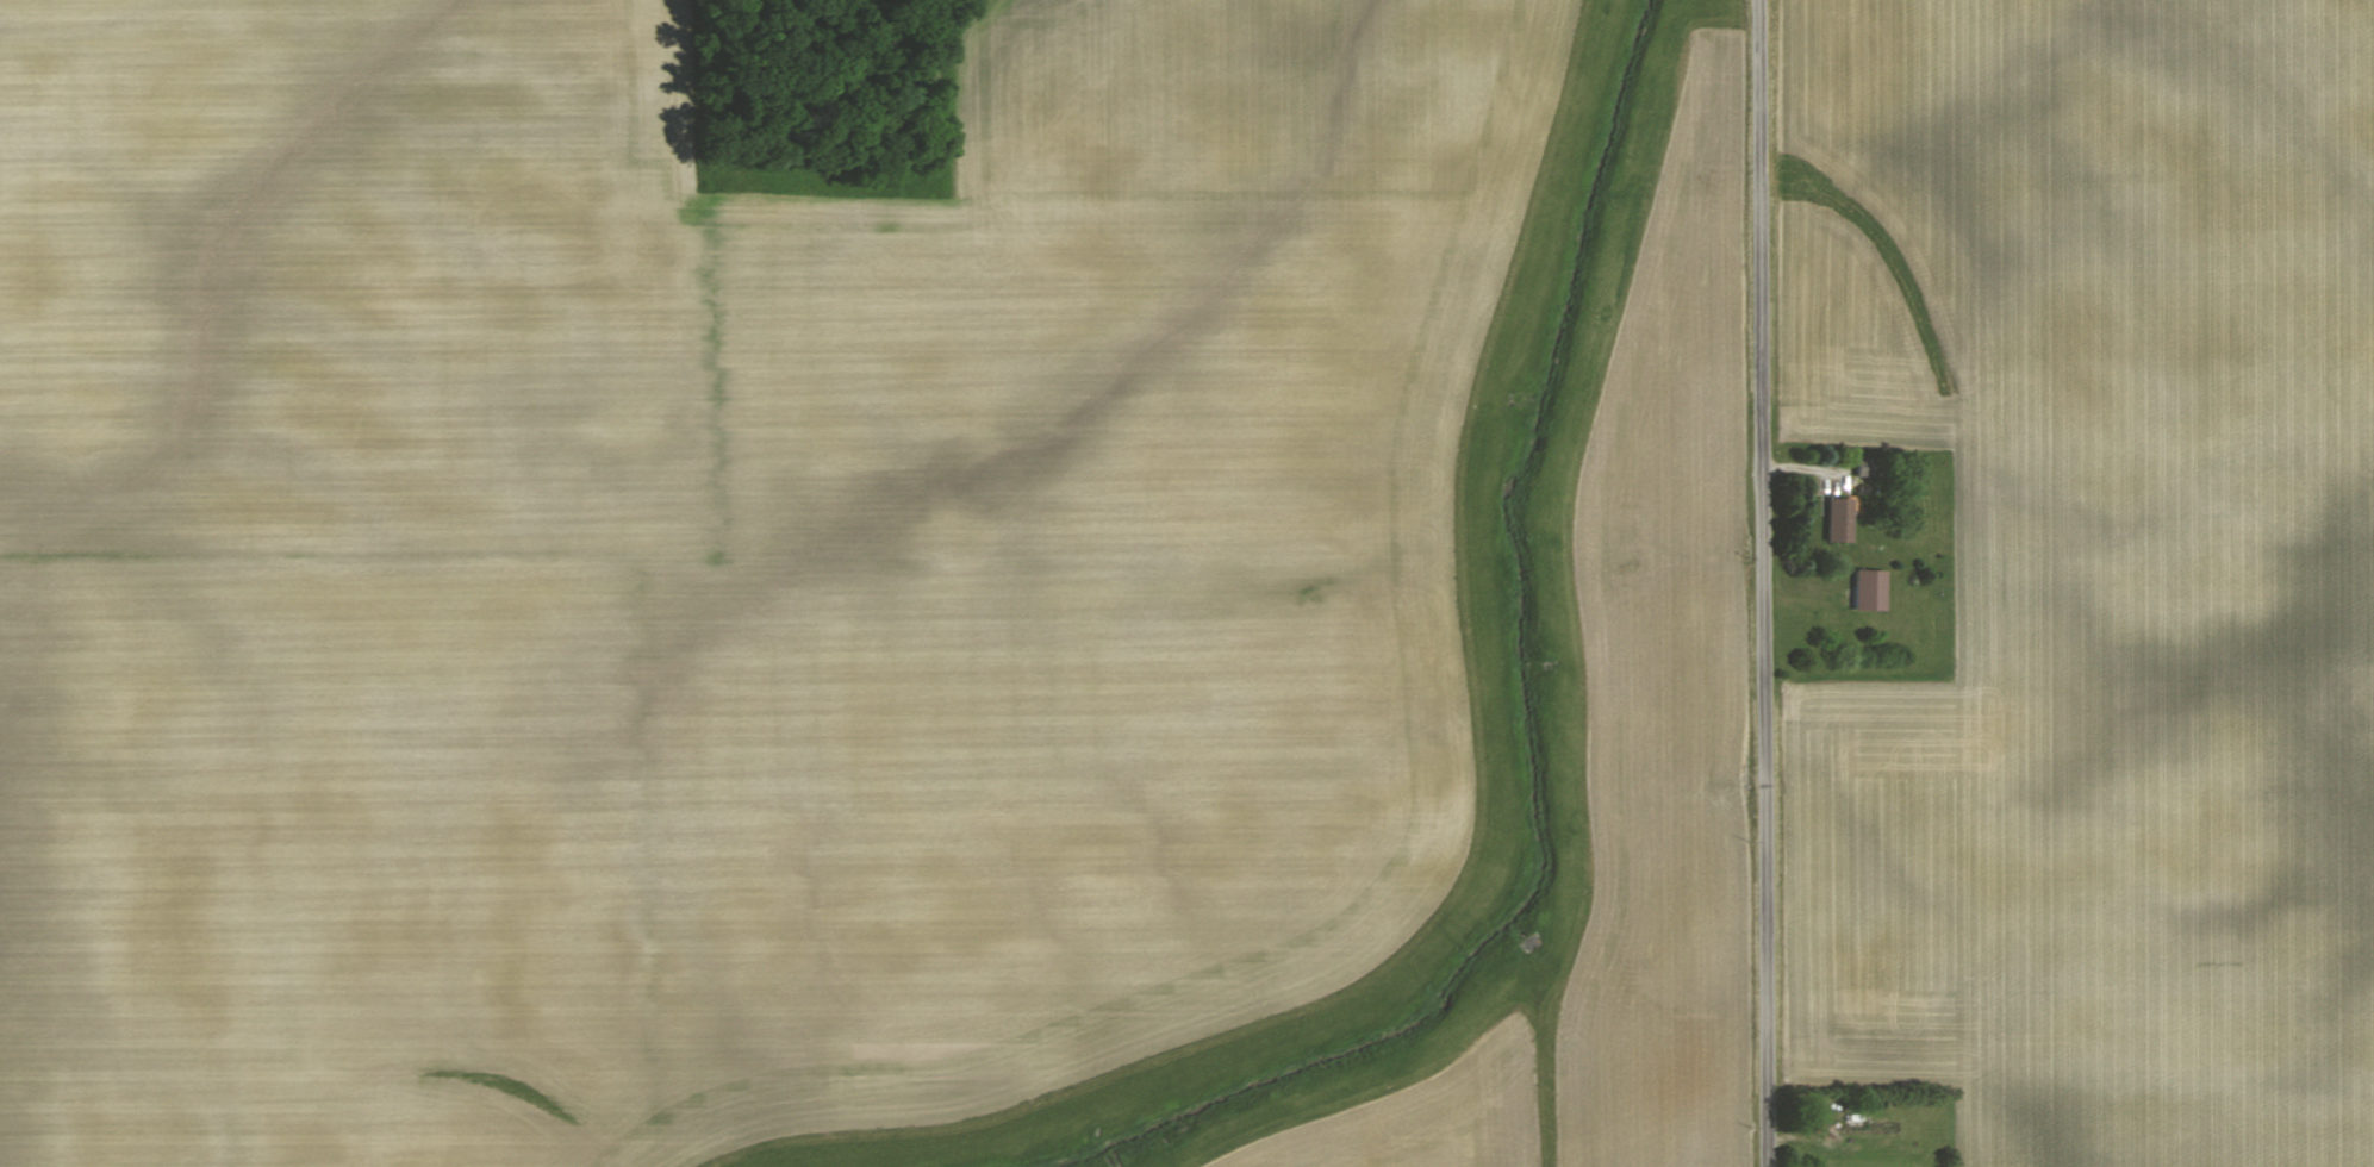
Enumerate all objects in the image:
building: (1864, 467)
building: (1839, 520)
road: (1765, 582)

